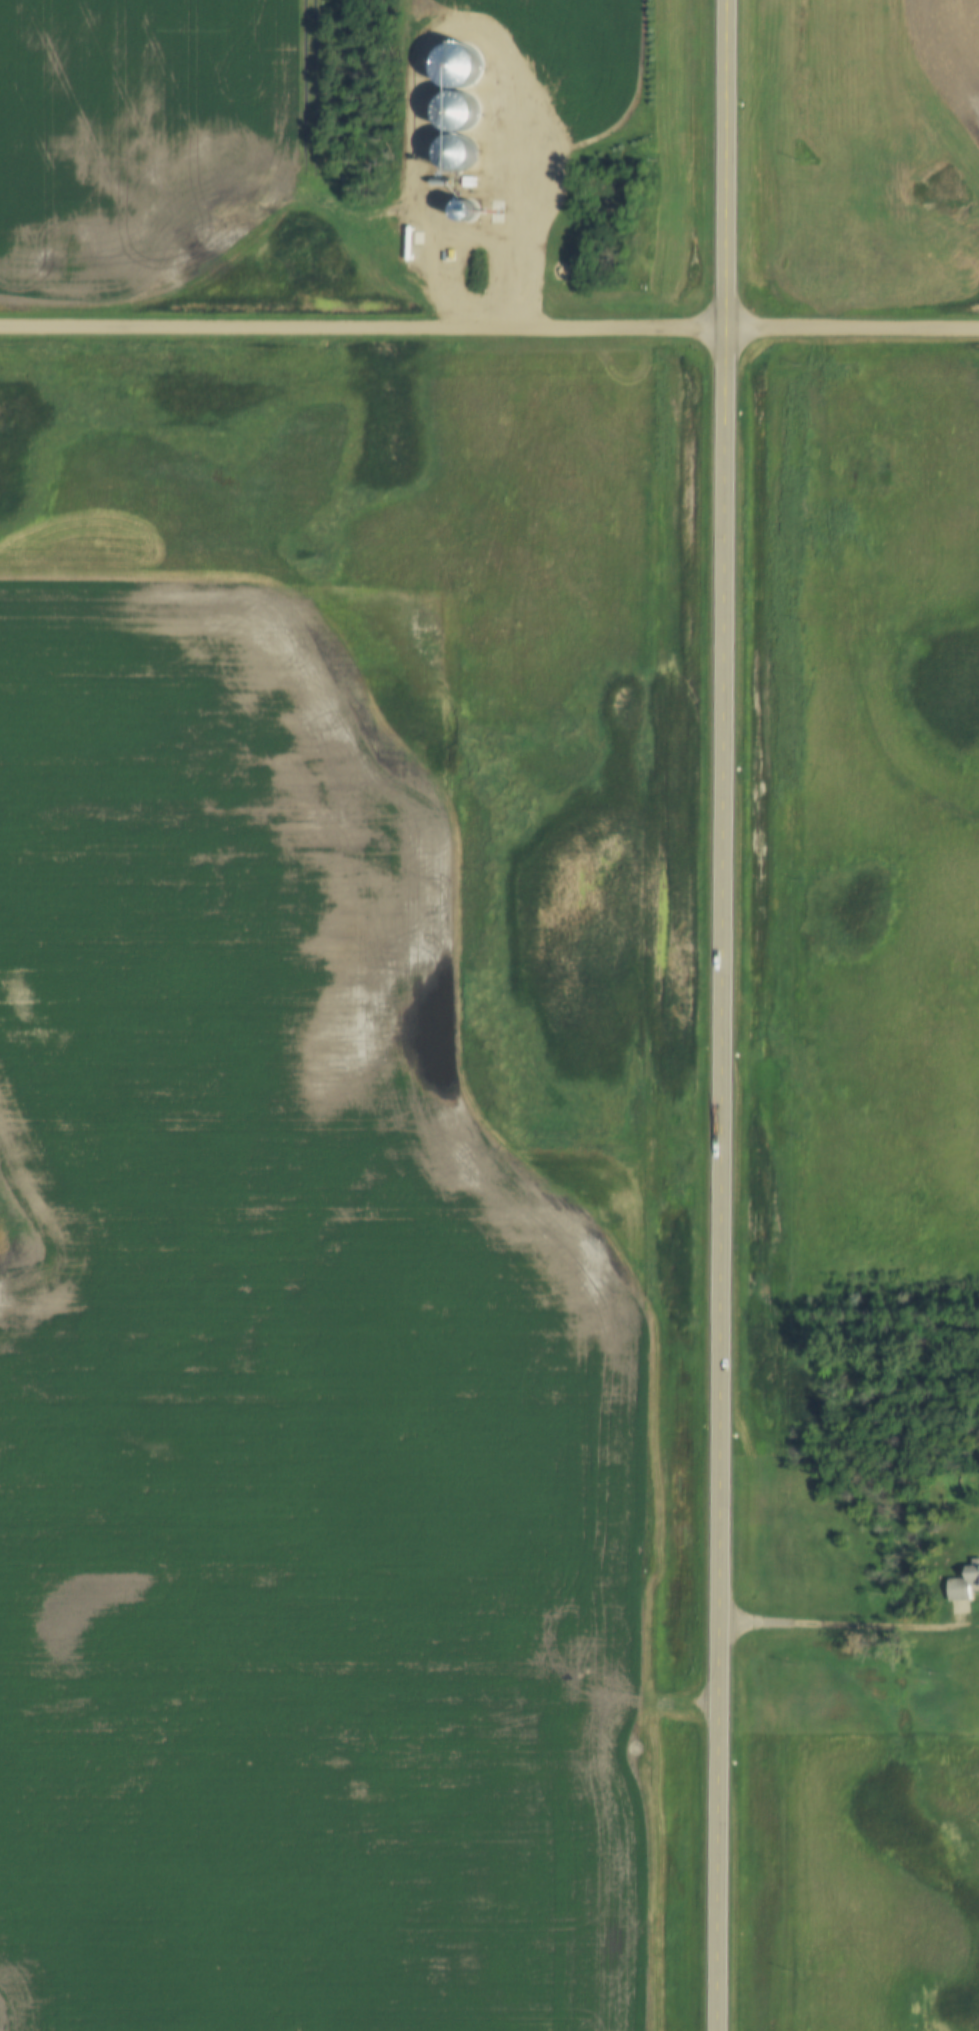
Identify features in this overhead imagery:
road: (489, 328)
road: (724, 1015)
building: (963, 1585)
road: (850, 1629)

